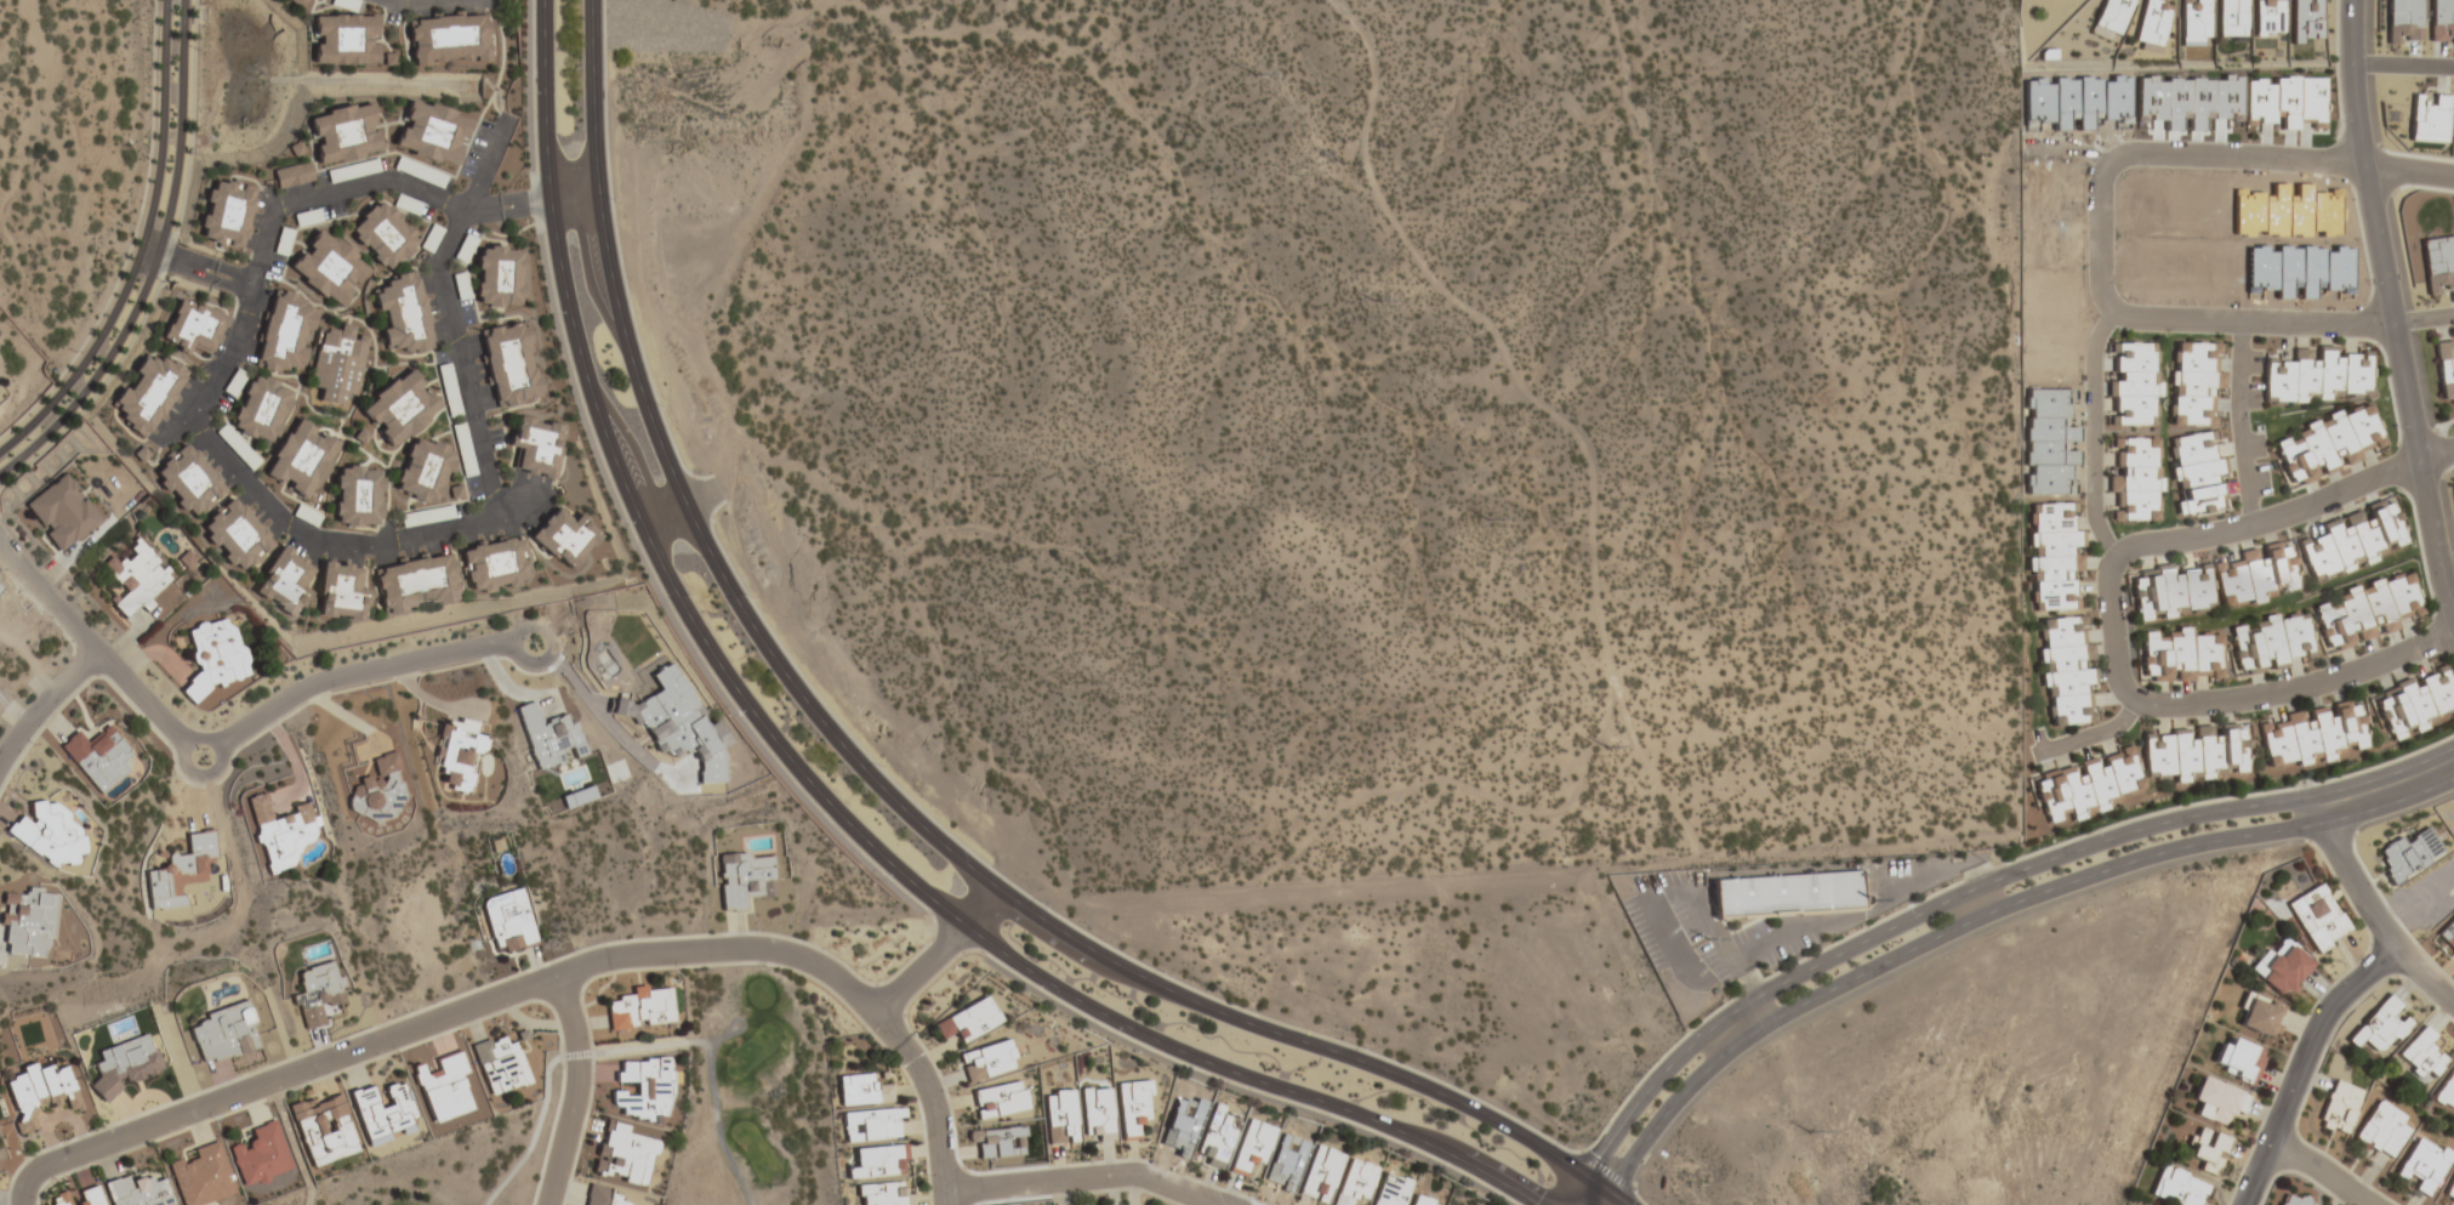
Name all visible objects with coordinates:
building: (2112, 16)
building: (2267, 16)
building: (2231, 17)
building: (2305, 19)
building: (2194, 21)
building: (2403, 21)
building: (2442, 21)
building: (2152, 22)
building: (448, 39)
building: (343, 40)
road: (2402, 63)
power tower: (1252, 75)
building: (2285, 101)
building: (2429, 116)
street lamp: (2338, 120)
road: (178, 124)
building: (432, 132)
building: (343, 133)
road: (2068, 146)
street lamp: (2084, 174)
building: (292, 175)
road: (573, 197)
street lamp: (613, 199)
road: (2100, 201)
road: (505, 209)
building: (224, 212)
building: (382, 235)
road: (138, 248)
road: (148, 250)
road: (204, 262)
building: (2438, 263)
building: (329, 269)
road: (200, 275)
building: (497, 278)
street lamp: (2368, 283)
street lamp: (2117, 285)
power tower: (1372, 302)
road: (2391, 311)
street lamp: (547, 312)
building: (402, 316)
road: (2424, 318)
building: (192, 328)
building: (286, 335)
building: (509, 365)
building: (337, 366)
building: (2444, 368)
road: (96, 373)
building: (2316, 375)
building: (2193, 382)
building: (2133, 383)
building: (149, 392)
street lamp: (660, 407)
building: (400, 408)
building: (261, 411)
street lamp: (2254, 421)
road: (2238, 422)
street lamp: (2395, 427)
road: (2093, 432)
building: (2328, 444)
building: (535, 445)
building: (462, 450)
building: (301, 460)
building: (423, 471)
building: (2196, 472)
building: (2135, 479)
building: (188, 482)
road: (246, 487)
building: (454, 491)
building: (358, 496)
building: (61, 513)
power tower: (1484, 521)
street lamp: (617, 524)
building: (237, 538)
building: (563, 538)
building: (2352, 539)
building: (2055, 553)
road: (2446, 561)
building: (494, 567)
building: (2255, 575)
building: (135, 576)
building: (285, 582)
building: (417, 584)
building: (2171, 591)
building: (341, 592)
street lamp: (751, 597)
street lamp: (2430, 604)
building: (2363, 612)
road: (2111, 620)
street lamp: (63, 641)
building: (2271, 642)
building: (216, 655)
building: (2180, 655)
building: (2067, 669)
building: (2413, 704)
road: (46, 707)
street lamp: (729, 715)
road: (12, 716)
road: (2093, 733)
building: (2311, 734)
building: (548, 735)
street lamp: (32, 744)
road: (228, 744)
power tower: (1607, 749)
building: (2197, 751)
building: (455, 755)
building: (98, 757)
street lamp: (879, 766)
road: (871, 778)
road: (810, 784)
street lamp: (2285, 785)
building: (2089, 786)
road: (2388, 789)
building: (377, 790)
building: (57, 829)
street lamp: (2090, 830)
building: (279, 832)
building: (2408, 854)
building: (180, 871)
street lamp: (878, 876)
building: (742, 877)
building: (1788, 892)
street lamp: (1041, 903)
street lamp: (1901, 906)
road: (2374, 914)
road: (1913, 915)
building: (2317, 916)
building: (507, 921)
building: (27, 923)
building: (2447, 936)
power tower: (1707, 939)
road: (1929, 939)
road: (939, 950)
building: (2281, 967)
street lamp: (681, 971)
street lamp: (1163, 972)
street lamp: (2331, 979)
road: (541, 985)
street lamp: (1026, 991)
building: (315, 993)
building: (640, 1007)
building: (2259, 1014)
building: (968, 1021)
building: (2382, 1025)
street lamp: (1685, 1030)
street lamp: (865, 1031)
building: (224, 1033)
road: (716, 1034)
street lamp: (592, 1041)
road: (627, 1044)
street lamp: (1365, 1048)
street lamp: (397, 1052)
building: (2422, 1055)
building: (2238, 1059)
building: (987, 1061)
road: (2301, 1062)
building: (123, 1064)
building: (500, 1064)
building: (644, 1087)
park: (751, 1087)
building: (443, 1089)
building: (861, 1090)
road: (571, 1091)
street lamp: (1231, 1091)
building: (2447, 1091)
building: (36, 1092)
street lamp: (947, 1092)
building: (1000, 1099)
building: (2217, 1101)
building: (1133, 1108)
building: (2338, 1108)
building: (383, 1112)
building: (1095, 1114)
building: (1059, 1116)
street lamp: (215, 1120)
building: (876, 1122)
building: (324, 1129)
building: (2381, 1130)
power tower: (1807, 1133)
building: (1217, 1137)
street lamp: (1564, 1144)
building: (1249, 1147)
building: (2207, 1149)
building: (261, 1154)
building: (624, 1155)
street lamp: (1082, 1160)
building: (878, 1161)
building: (2422, 1164)
street lamp: (1433, 1167)
road: (2322, 1169)
building: (1320, 1173)
building: (201, 1176)
road: (1083, 1178)
building: (1354, 1183)
building: (2176, 1187)
road: (1575, 1189)
building: (2450, 1189)
building: (1390, 1190)
building: (138, 1192)
building: (883, 1194)
building: (78, 1197)
building: (602, 1197)
street lamp: (1253, 1197)
road: (1617, 1197)
road: (1601, 1198)
building: (2293, 1199)
street lamp: (39, 1200)
building: (1422, 1200)
building: (1477, 1204)

